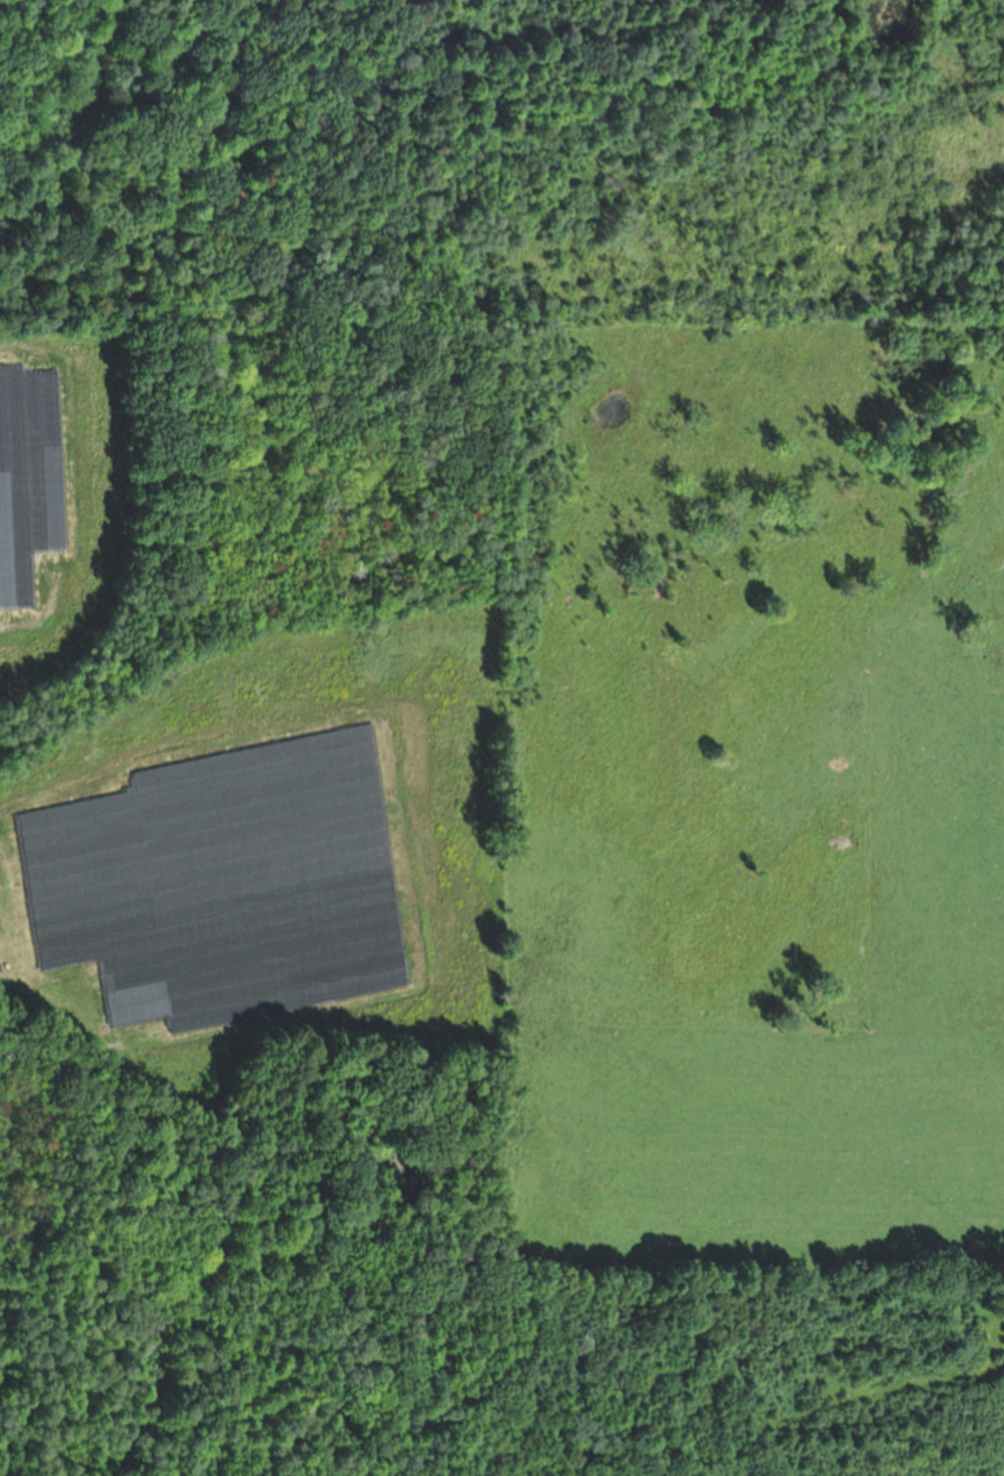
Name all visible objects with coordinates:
crop: (55, 502)
crop: (618, 812)

